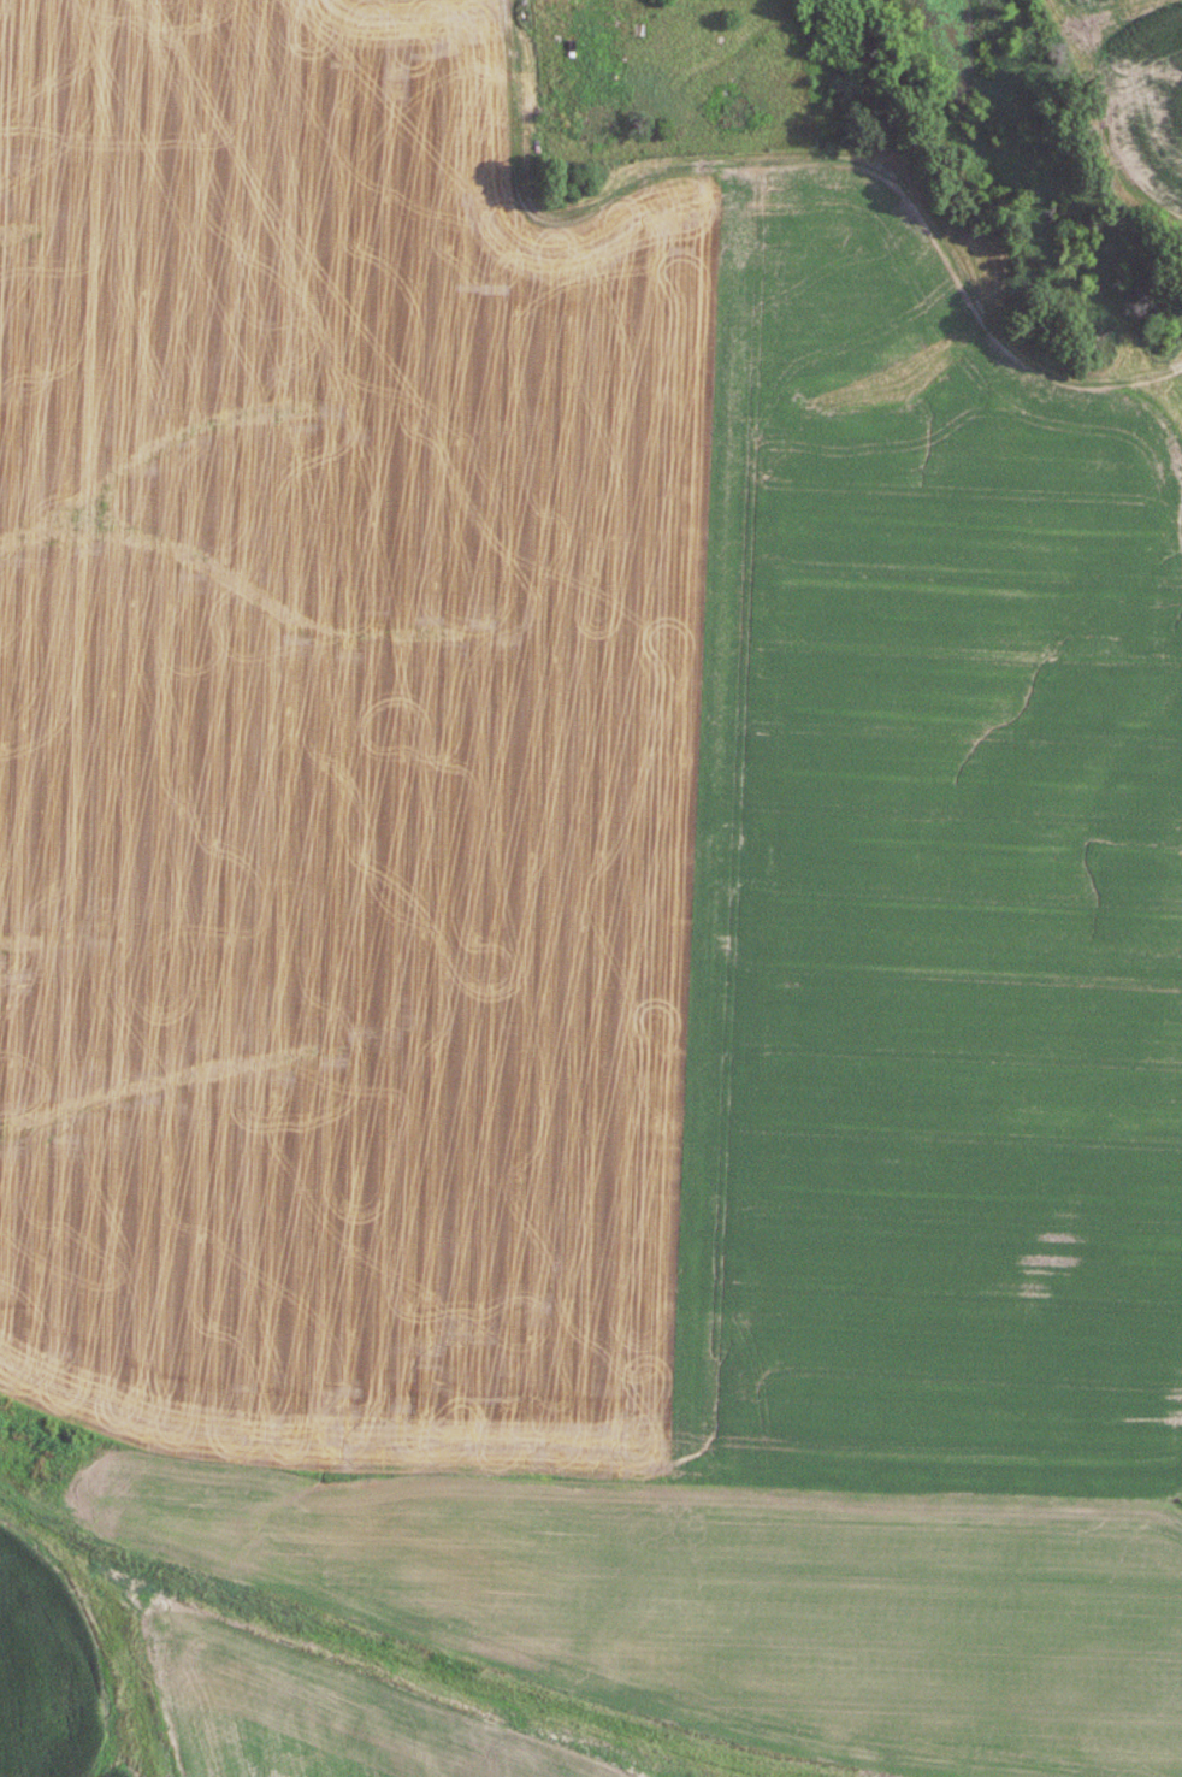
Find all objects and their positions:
road: (797, 160)

